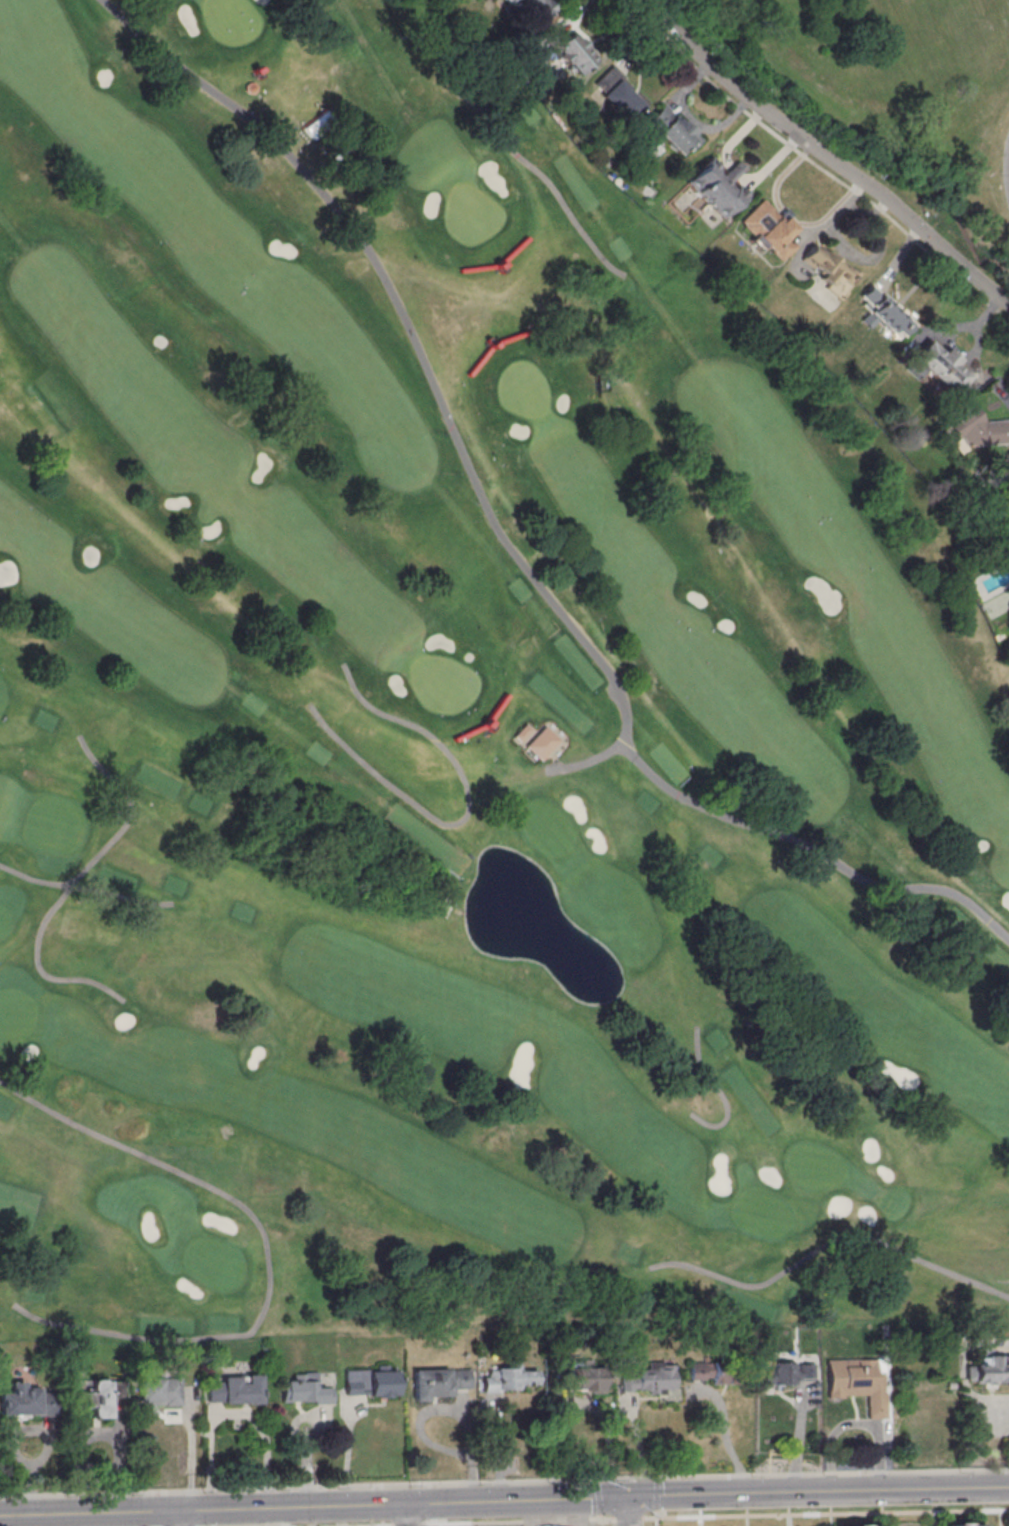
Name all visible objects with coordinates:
building: (528, 10)
park: (230, 19)
building: (573, 52)
park: (888, 85)
building: (618, 94)
building: (673, 130)
road: (825, 156)
road: (816, 165)
building: (717, 186)
park: (471, 214)
building: (769, 228)
building: (830, 270)
building: (883, 312)
building: (942, 366)
park: (523, 388)
building: (977, 430)
building: (1007, 462)
park: (443, 682)
park: (455, 738)
park: (54, 824)
park: (547, 826)
park: (4, 920)
park: (15, 1016)
park: (464, 1062)
park: (815, 1166)
park: (762, 1212)
park: (214, 1261)
building: (714, 1369)
building: (988, 1369)
building: (784, 1371)
building: (650, 1378)
building: (508, 1379)
building: (375, 1380)
building: (442, 1380)
building: (585, 1380)
building: (856, 1380)
building: (238, 1389)
building: (305, 1389)
building: (161, 1391)
building: (90, 1395)
building: (29, 1399)
road: (579, 1402)
road: (444, 1406)
road: (504, 1482)
road: (818, 1489)
traffic signals: (628, 1494)
road: (584, 1496)
road: (269, 1507)
road: (628, 1510)
road: (827, 1512)
road: (411, 1514)
road: (631, 1517)
road: (181, 1518)
road: (519, 1520)
road: (604, 1522)
building: (962, 1523)
road: (410, 1524)
building: (859, 1524)
road: (377, 1525)

